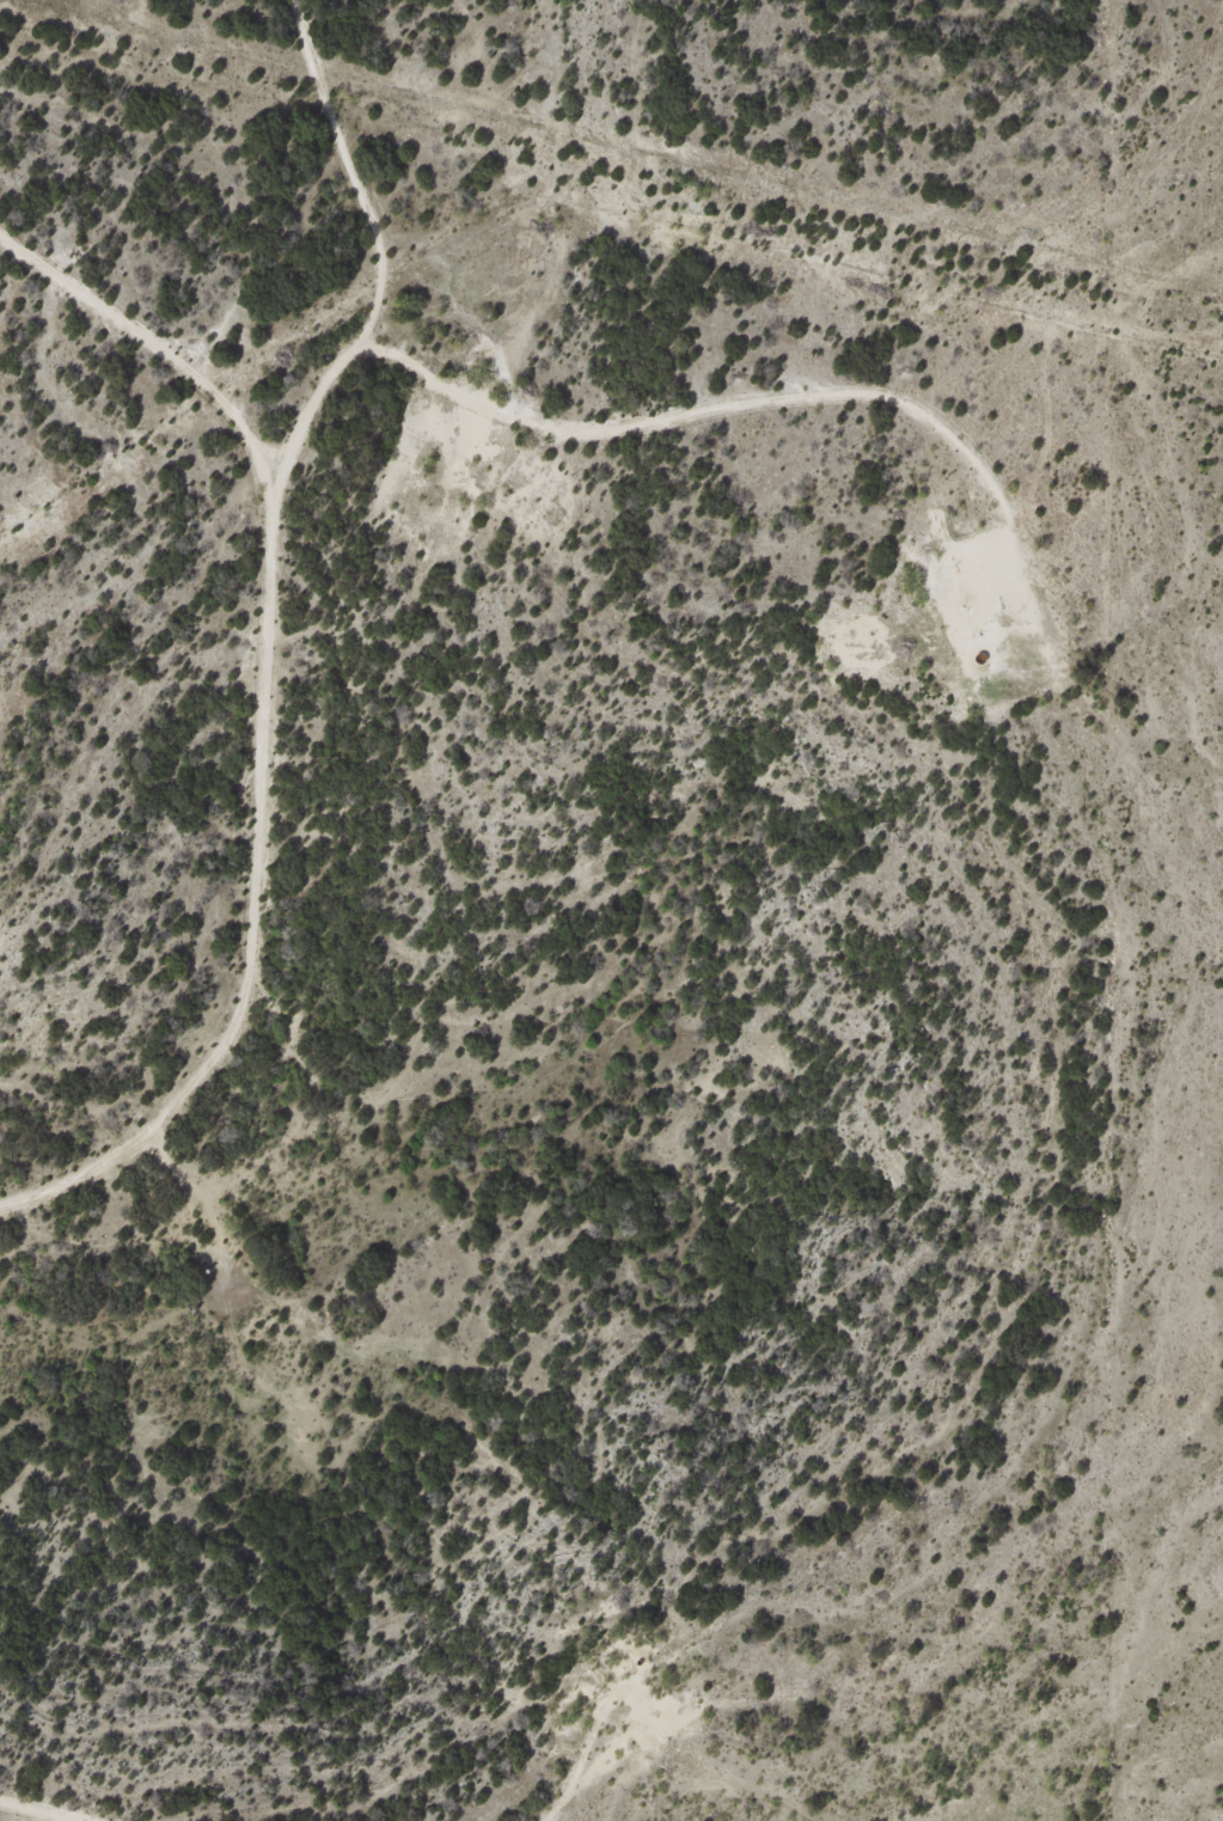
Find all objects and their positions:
road: (133, 336)
road: (240, 607)
road: (528, 1799)
road: (30, 1813)

